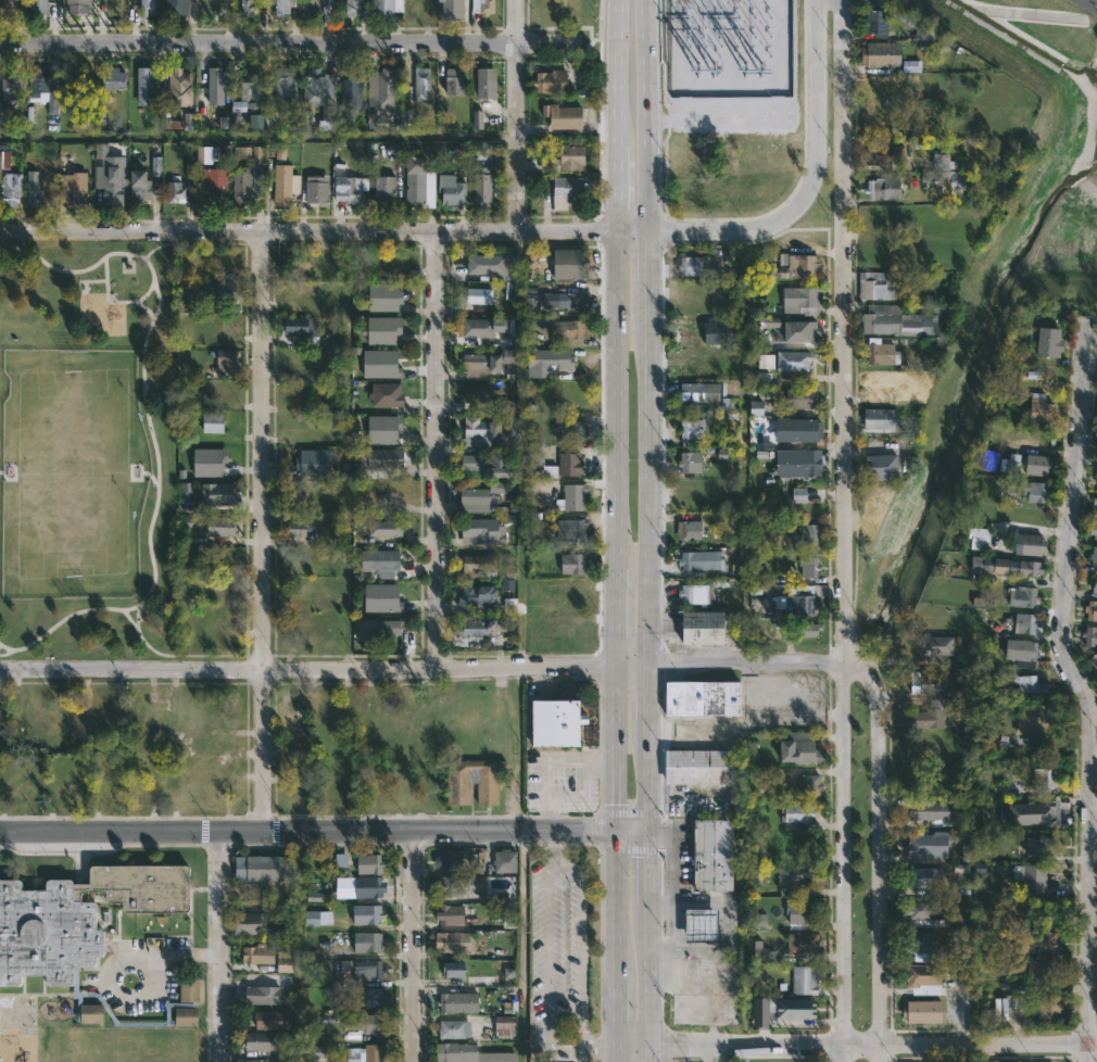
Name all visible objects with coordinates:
road: (1092, 2)
building: (81, 7)
building: (248, 7)
building: (283, 7)
building: (352, 7)
building: (483, 7)
building: (38, 8)
building: (149, 8)
building: (178, 8)
building: (311, 8)
building: (389, 9)
building: (454, 9)
building: (8, 10)
building: (413, 13)
road: (644, 20)
road: (620, 21)
building: (873, 21)
road: (584, 26)
building: (929, 36)
road: (288, 43)
power substation: (729, 49)
building: (878, 53)
building: (911, 66)
building: (114, 81)
building: (287, 81)
building: (456, 81)
building: (553, 81)
building: (78, 84)
building: (423, 84)
building: (488, 84)
building: (890, 84)
building: (12, 86)
building: (146, 86)
building: (180, 87)
building: (319, 87)
building: (217, 88)
building: (45, 89)
building: (384, 90)
building: (352, 92)
building: (250, 93)
road: (666, 108)
building: (565, 116)
building: (270, 117)
road: (517, 117)
building: (477, 119)
building: (255, 122)
building: (882, 125)
road: (645, 136)
road: (618, 137)
building: (482, 151)
building: (248, 153)
building: (280, 153)
building: (203, 154)
building: (884, 155)
building: (4, 160)
building: (567, 161)
building: (156, 165)
building: (190, 170)
building: (420, 180)
building: (944, 181)
building: (142, 184)
building: (249, 185)
building: (285, 185)
building: (112, 186)
building: (483, 186)
building: (214, 187)
building: (35, 188)
building: (13, 189)
building: (74, 189)
building: (350, 189)
building: (884, 189)
building: (175, 191)
building: (387, 191)
building: (567, 191)
building: (454, 192)
building: (318, 195)
road: (506, 235)
building: (489, 263)
building: (571, 263)
road: (48, 265)
building: (794, 265)
building: (699, 266)
building: (879, 285)
building: (222, 290)
building: (509, 290)
building: (481, 295)
building: (386, 296)
building: (572, 298)
building: (800, 300)
building: (892, 320)
road: (844, 321)
building: (223, 325)
building: (300, 326)
building: (480, 327)
building: (791, 328)
building: (386, 329)
building: (571, 331)
building: (714, 334)
building: (1045, 341)
building: (879, 353)
building: (507, 355)
building: (554, 357)
building: (227, 359)
building: (791, 359)
building: (765, 361)
building: (383, 363)
building: (484, 364)
building: (710, 392)
building: (480, 393)
building: (389, 394)
building: (803, 397)
building: (506, 407)
building: (756, 407)
building: (1037, 408)
building: (882, 418)
building: (215, 422)
building: (509, 427)
building: (386, 428)
building: (483, 430)
building: (572, 430)
building: (690, 431)
building: (803, 431)
park: (88, 450)
road: (438, 452)
building: (987, 459)
building: (211, 460)
building: (539, 462)
building: (688, 462)
building: (315, 463)
building: (492, 463)
building: (799, 463)
building: (571, 464)
building: (1010, 464)
building: (1034, 464)
building: (381, 465)
building: (879, 466)
park: (73, 473)
building: (1096, 479)
road: (156, 481)
building: (1011, 486)
building: (1031, 490)
building: (217, 492)
building: (297, 493)
building: (798, 494)
building: (392, 495)
building: (575, 497)
building: (474, 498)
building: (1094, 502)
building: (224, 527)
building: (295, 527)
building: (388, 528)
building: (573, 528)
building: (1092, 529)
building: (691, 530)
building: (483, 531)
road: (618, 532)
road: (648, 532)
road: (261, 533)
building: (809, 533)
building: (976, 536)
building: (1025, 543)
building: (1092, 556)
building: (697, 560)
building: (387, 562)
building: (575, 562)
building: (981, 564)
building: (481, 566)
building: (810, 567)
building: (1012, 567)
building: (1092, 583)
building: (695, 593)
building: (1019, 595)
building: (480, 596)
building: (384, 597)
building: (804, 599)
building: (1089, 609)
road: (136, 619)
road: (131, 621)
building: (1021, 623)
building: (487, 625)
building: (707, 627)
building: (378, 628)
building: (807, 630)
building: (1088, 635)
building: (936, 646)
building: (1016, 648)
road: (197, 653)
building: (1092, 659)
road: (428, 670)
building: (923, 682)
building: (1025, 684)
road: (1084, 688)
building: (701, 698)
building: (289, 706)
building: (934, 713)
building: (1031, 717)
building: (556, 722)
building: (996, 739)
building: (798, 748)
building: (703, 767)
building: (1041, 776)
building: (475, 780)
parking lot: (562, 780)
building: (810, 784)
building: (793, 788)
road: (1094, 809)
building: (799, 812)
building: (931, 813)
building: (1030, 813)
road: (307, 831)
road: (632, 832)
building: (928, 843)
road: (555, 845)
building: (1038, 846)
building: (717, 855)
building: (452, 858)
building: (340, 860)
road: (878, 860)
building: (507, 861)
road: (845, 862)
building: (371, 863)
building: (261, 868)
building: (794, 876)
building: (921, 877)
building: (1029, 877)
building: (464, 885)
building: (371, 887)
building: (961, 888)
building: (1043, 907)
building: (921, 909)
building: (452, 913)
building: (802, 913)
building: (368, 914)
building: (509, 914)
building: (78, 918)
building: (317, 918)
building: (760, 919)
building: (250, 923)
building: (701, 923)
road: (581, 930)
building: (1025, 940)
building: (369, 941)
building: (455, 941)
building: (807, 944)
building: (918, 944)
road: (413, 945)
road: (218, 946)
road: (546, 946)
road: (616, 946)
road: (650, 946)
building: (759, 952)
road: (157, 954)
building: (260, 954)
parking lot: (558, 956)
building: (283, 960)
building: (345, 965)
building: (369, 971)
building: (454, 973)
building: (1036, 976)
building: (921, 978)
building: (806, 979)
building: (191, 990)
building: (265, 991)
building: (703, 993)
building: (374, 997)
building: (458, 1002)
building: (793, 1008)
building: (1045, 1008)
building: (924, 1010)
building: (760, 1012)
building: (93, 1013)
building: (188, 1016)
building: (275, 1019)
building: (368, 1024)
building: (505, 1025)
building: (454, 1029)
road: (583, 1034)
building: (264, 1041)
road: (857, 1042)
road: (601, 1049)
building: (315, 1051)
road: (559, 1051)
building: (366, 1053)
building: (470, 1053)
building: (263, 1061)

